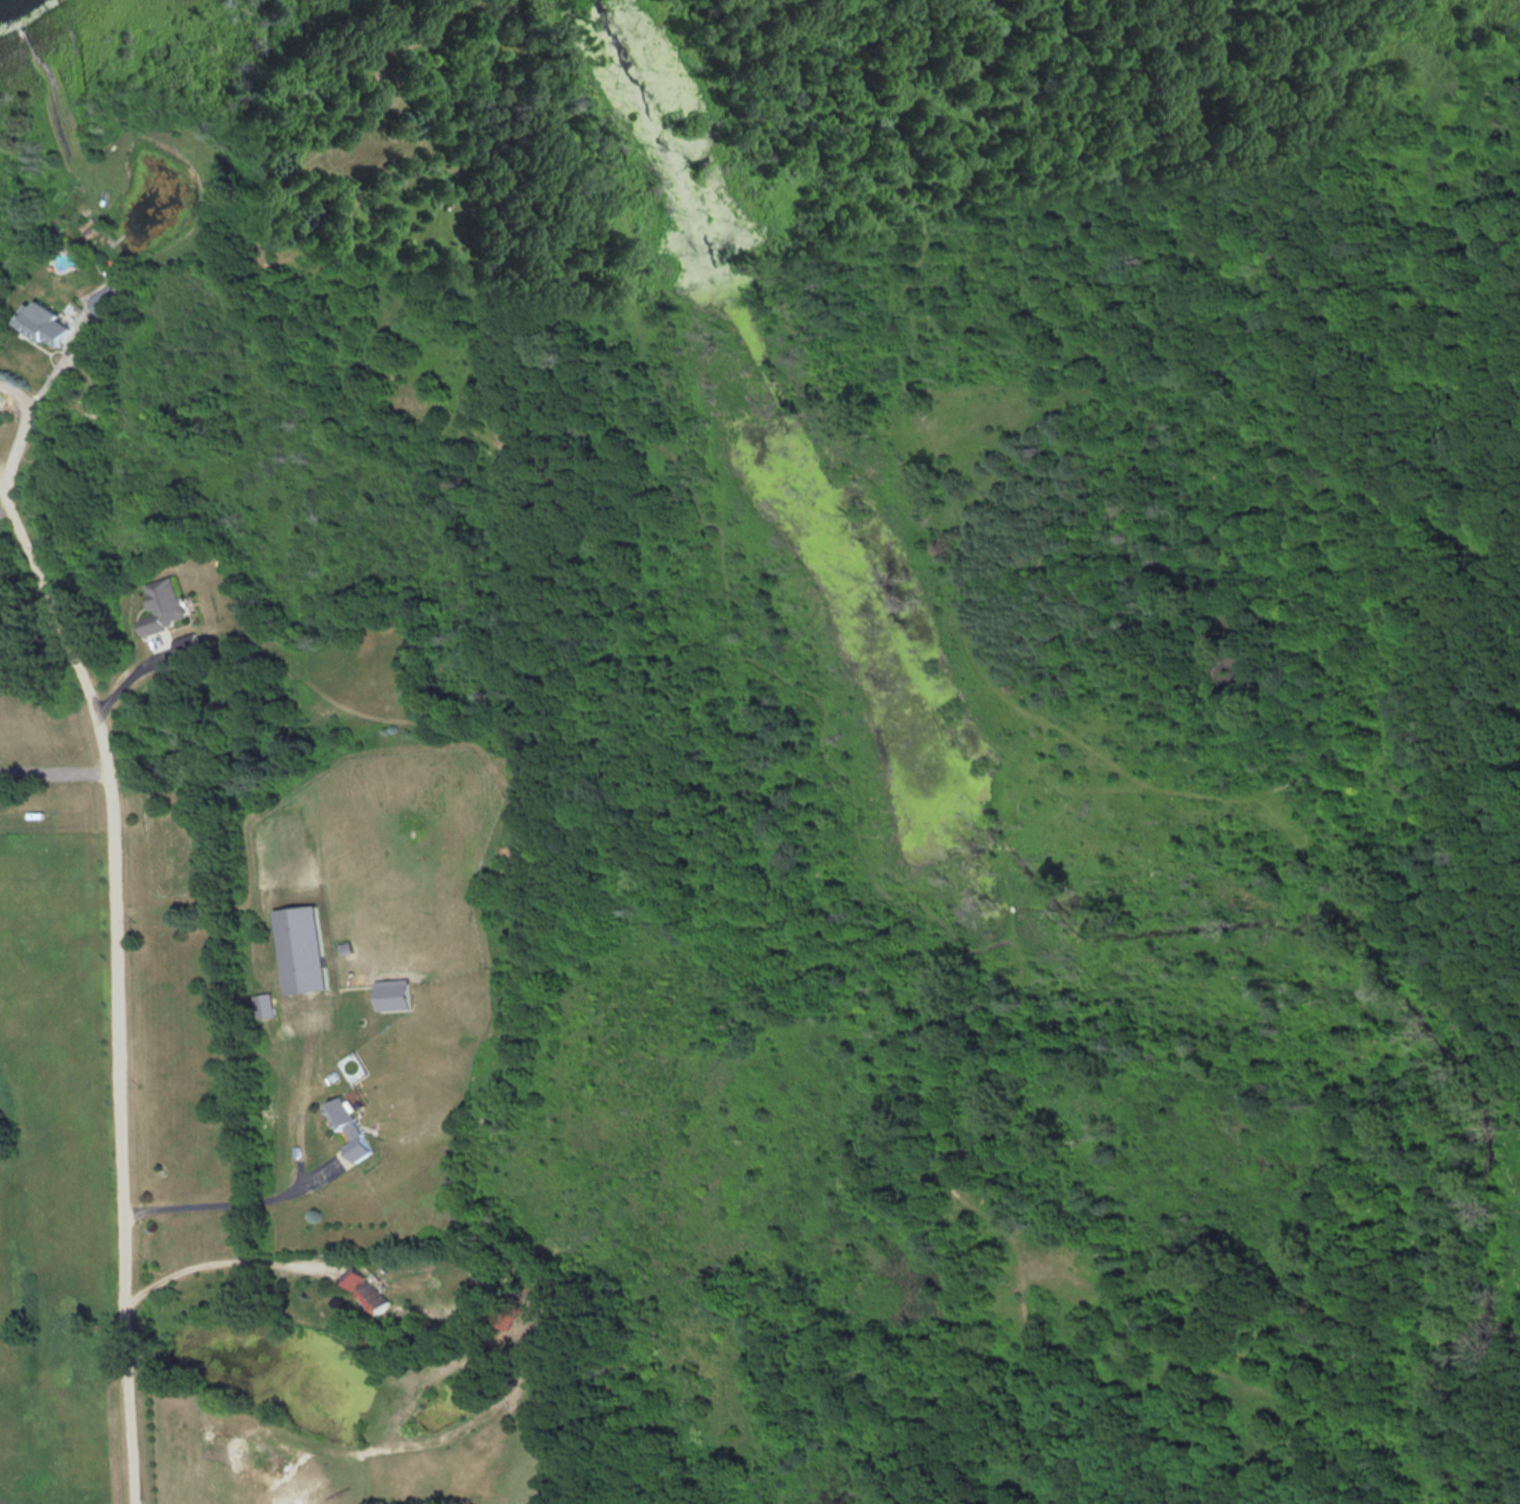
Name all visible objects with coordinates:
building: (109, 300)
building: (50, 323)
road: (51, 381)
building: (168, 607)
road: (136, 673)
road: (55, 767)
road: (118, 962)
building: (397, 992)
building: (265, 1004)
building: (352, 1127)
road: (225, 1205)
road: (228, 1262)
building: (372, 1287)
building: (482, 1292)
building: (507, 1311)

